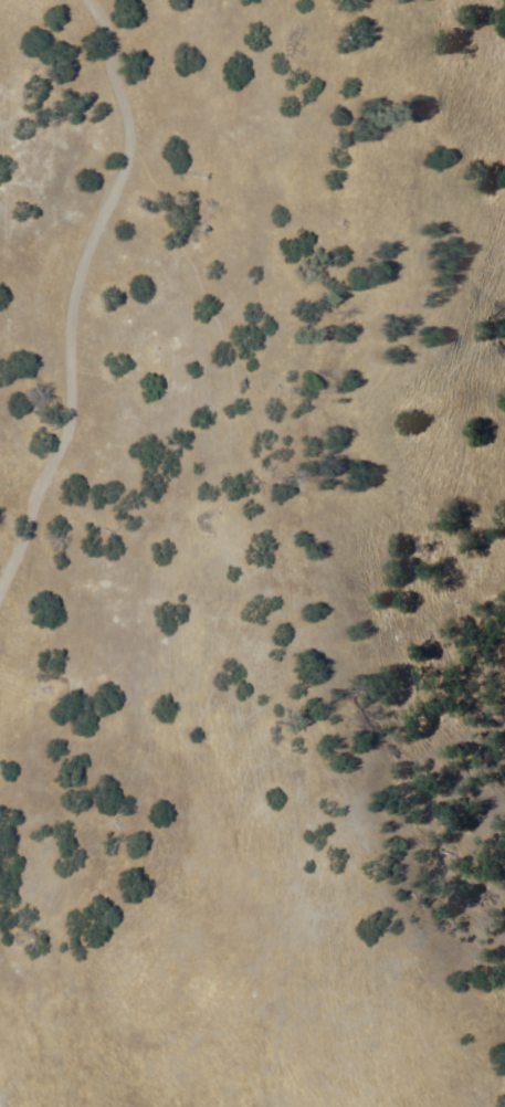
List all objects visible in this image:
road: (71, 301)
road: (362, 567)
road: (0, 1105)

